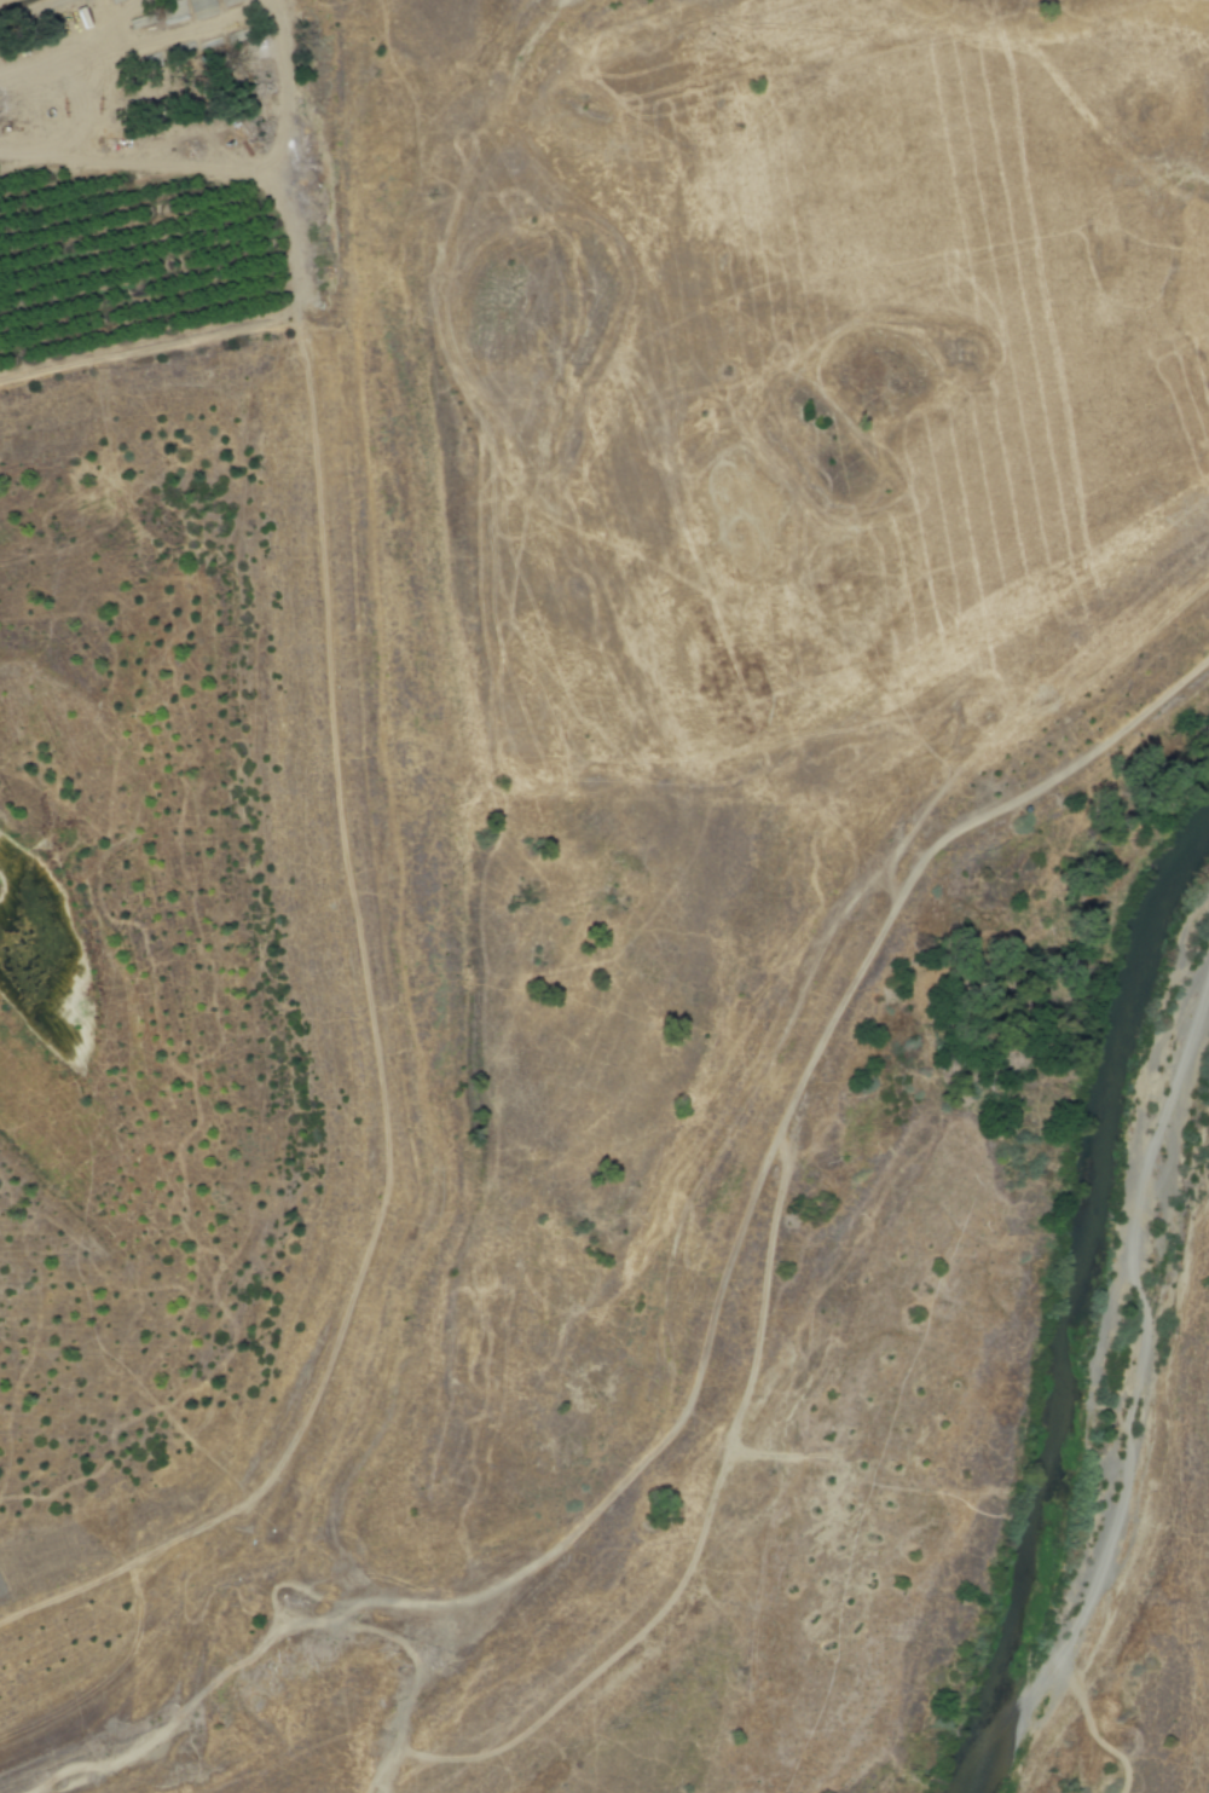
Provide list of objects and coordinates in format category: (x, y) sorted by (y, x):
river: (1082, 1334)

